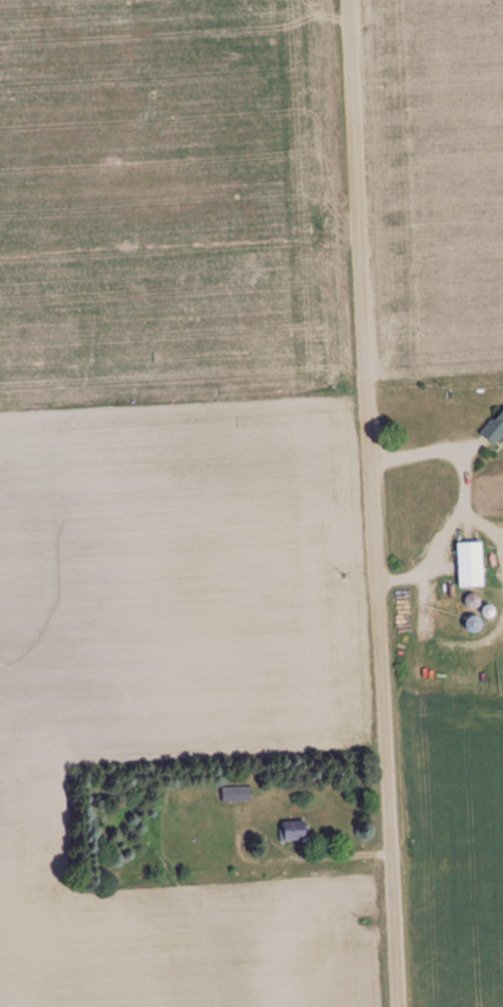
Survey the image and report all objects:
building: (495, 429)
road: (371, 503)
building: (471, 564)
building: (472, 601)
building: (474, 624)
building: (236, 795)
building: (294, 831)

